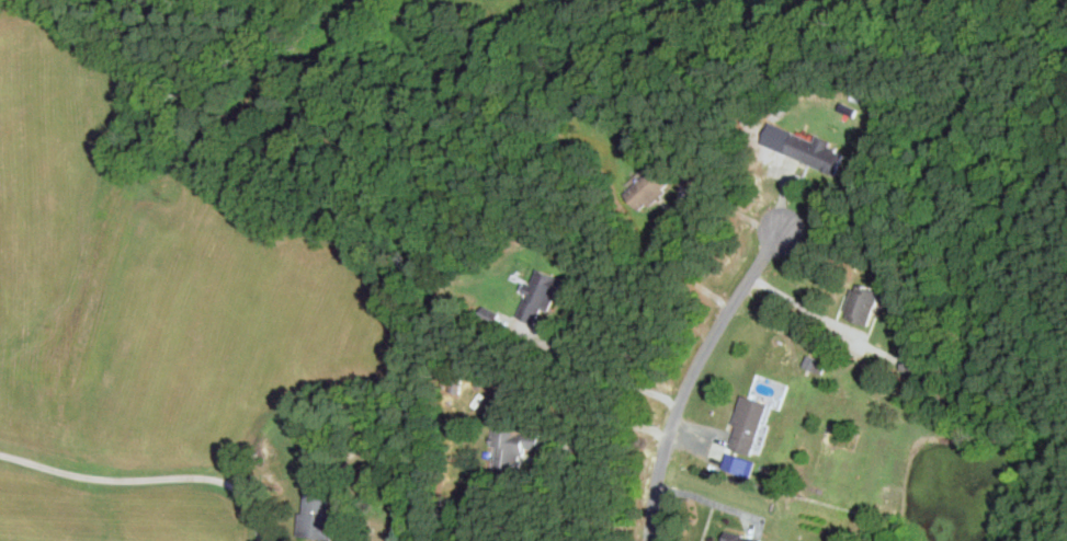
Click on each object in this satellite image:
building: (817, 152)
building: (649, 188)
building: (542, 296)
building: (864, 304)
road: (602, 365)
road: (693, 376)
building: (750, 425)
road: (609, 426)
building: (514, 447)
road: (134, 485)
building: (321, 518)
building: (739, 537)

